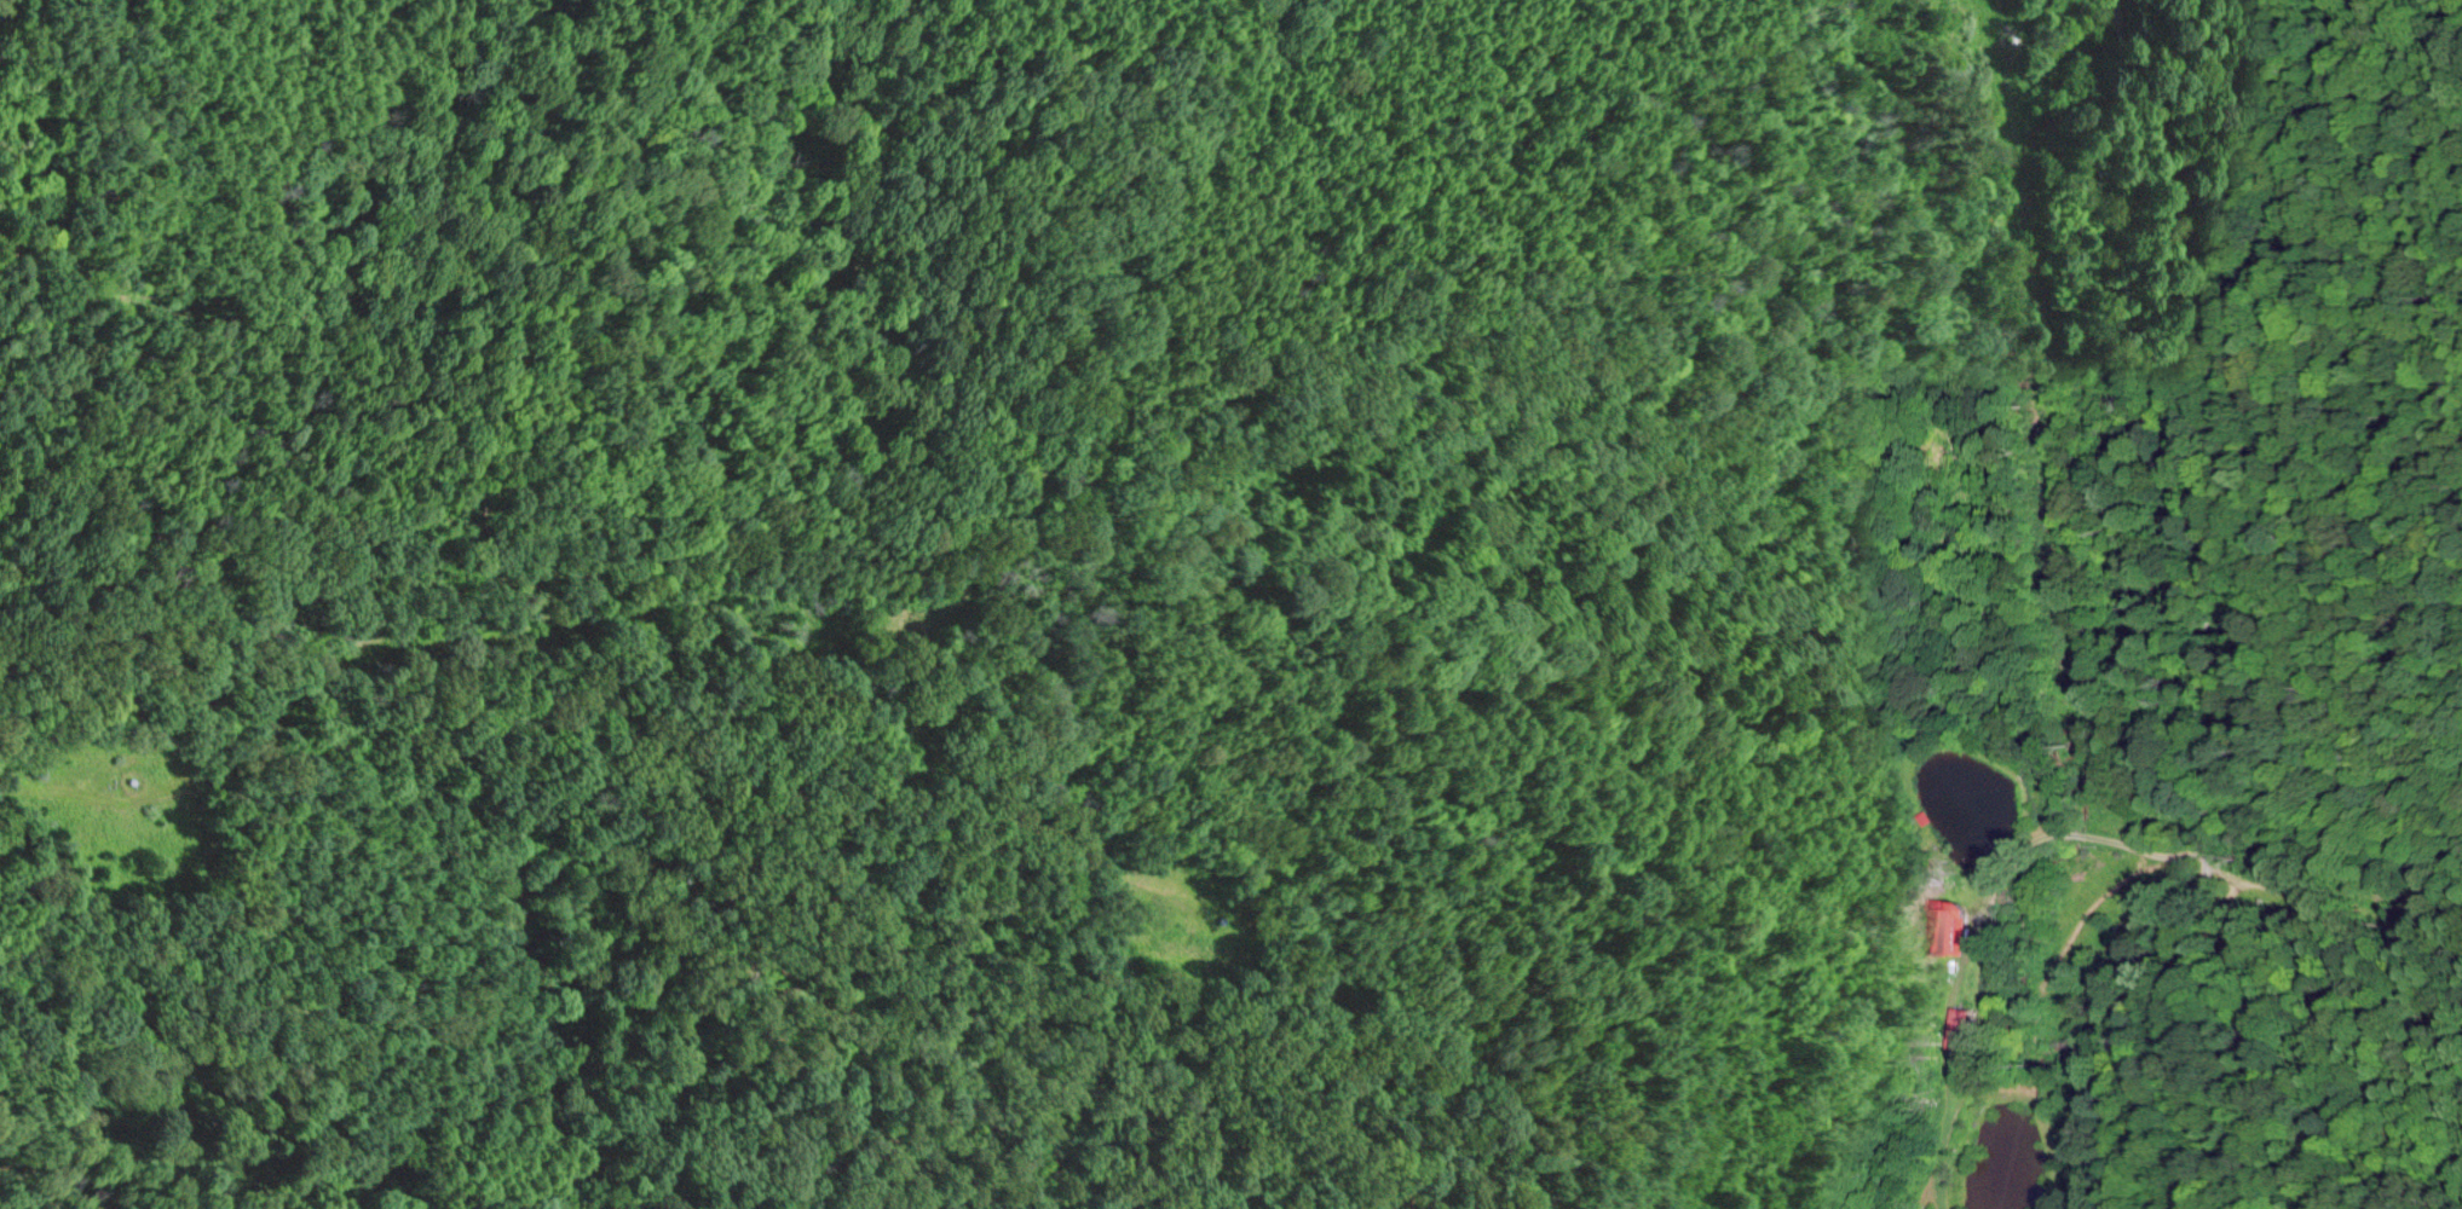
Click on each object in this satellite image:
road: (2214, 607)
building: (1947, 929)
building: (1959, 1029)

